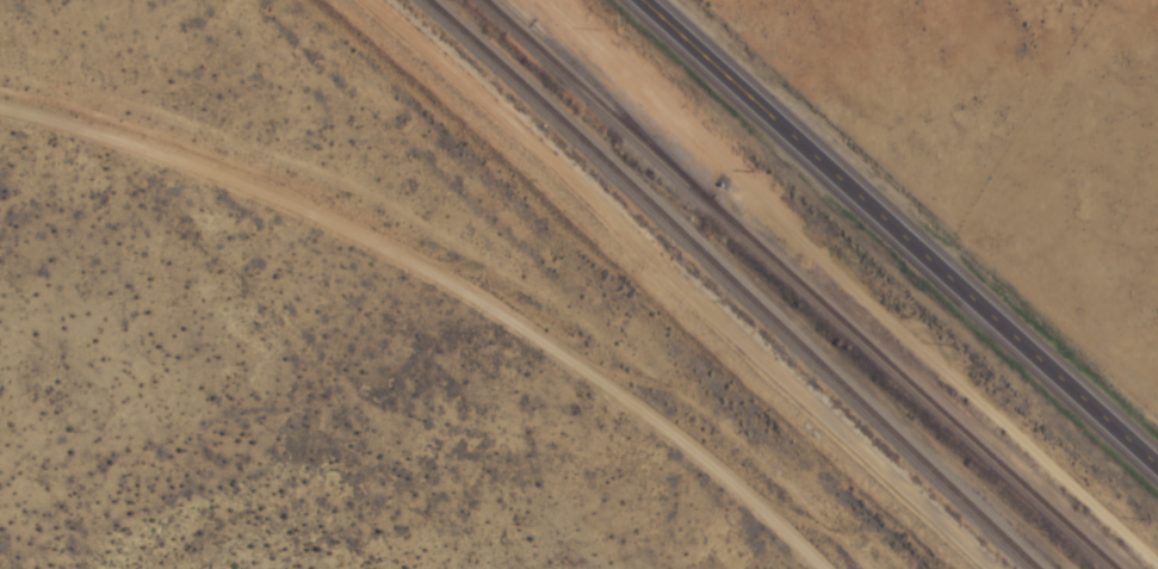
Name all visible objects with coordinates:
railway: (615, 94)
road: (1032, 131)
road: (906, 227)
railway: (745, 284)
railway: (819, 284)
road: (426, 289)

